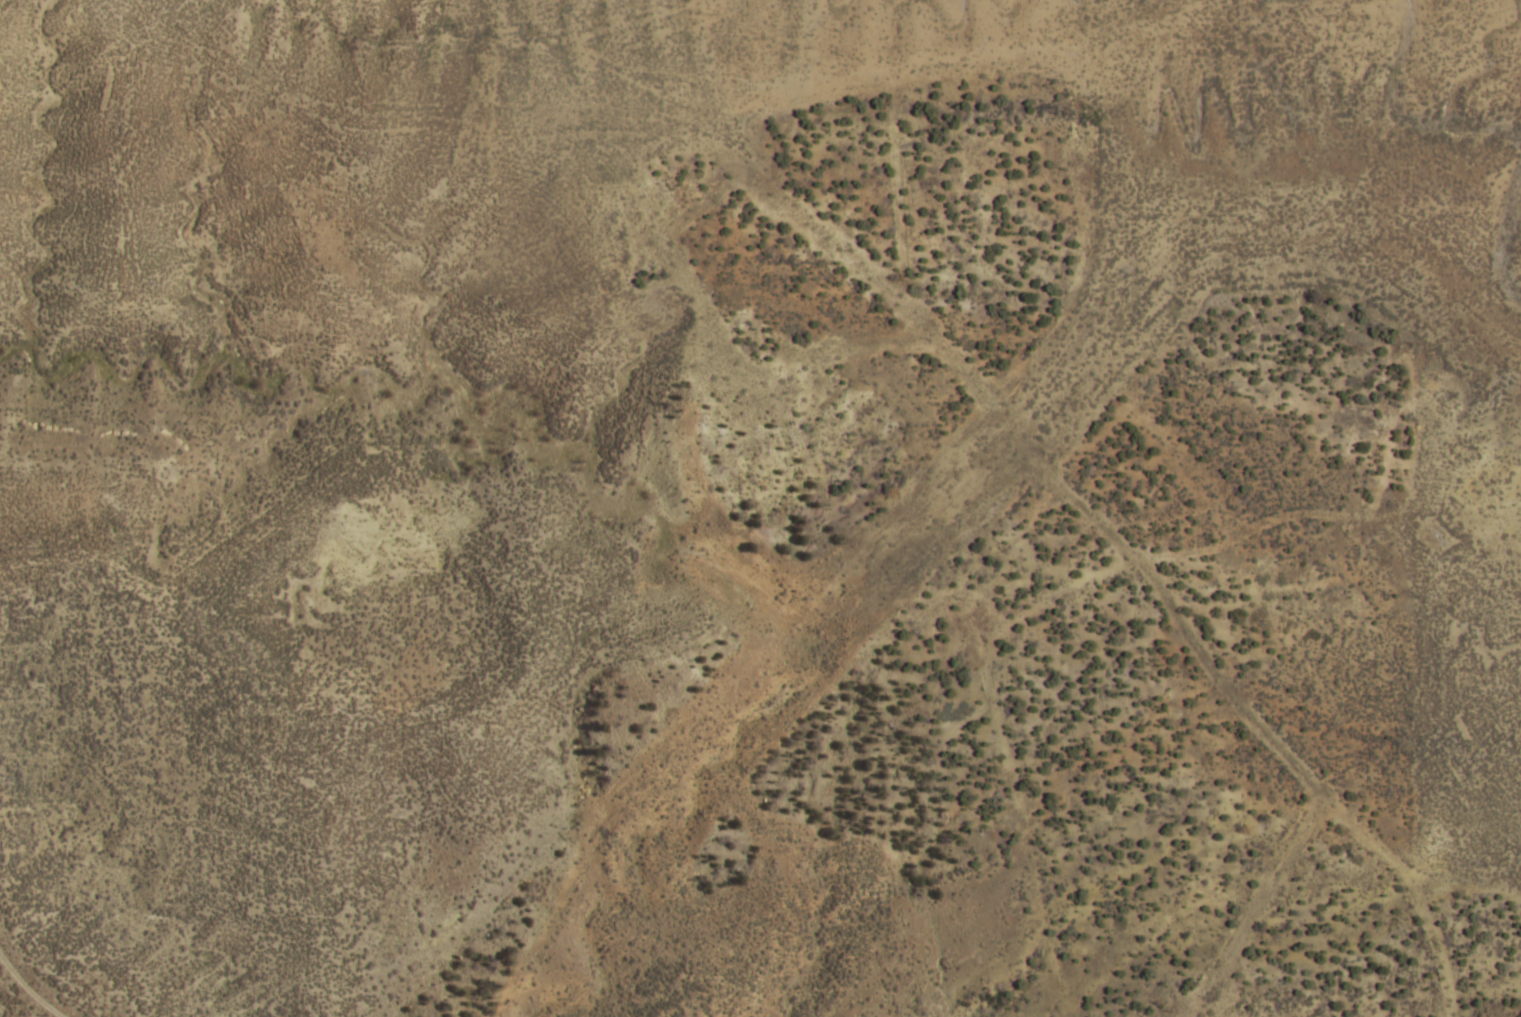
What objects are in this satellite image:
road: (1431, 94)
road: (1077, 506)

